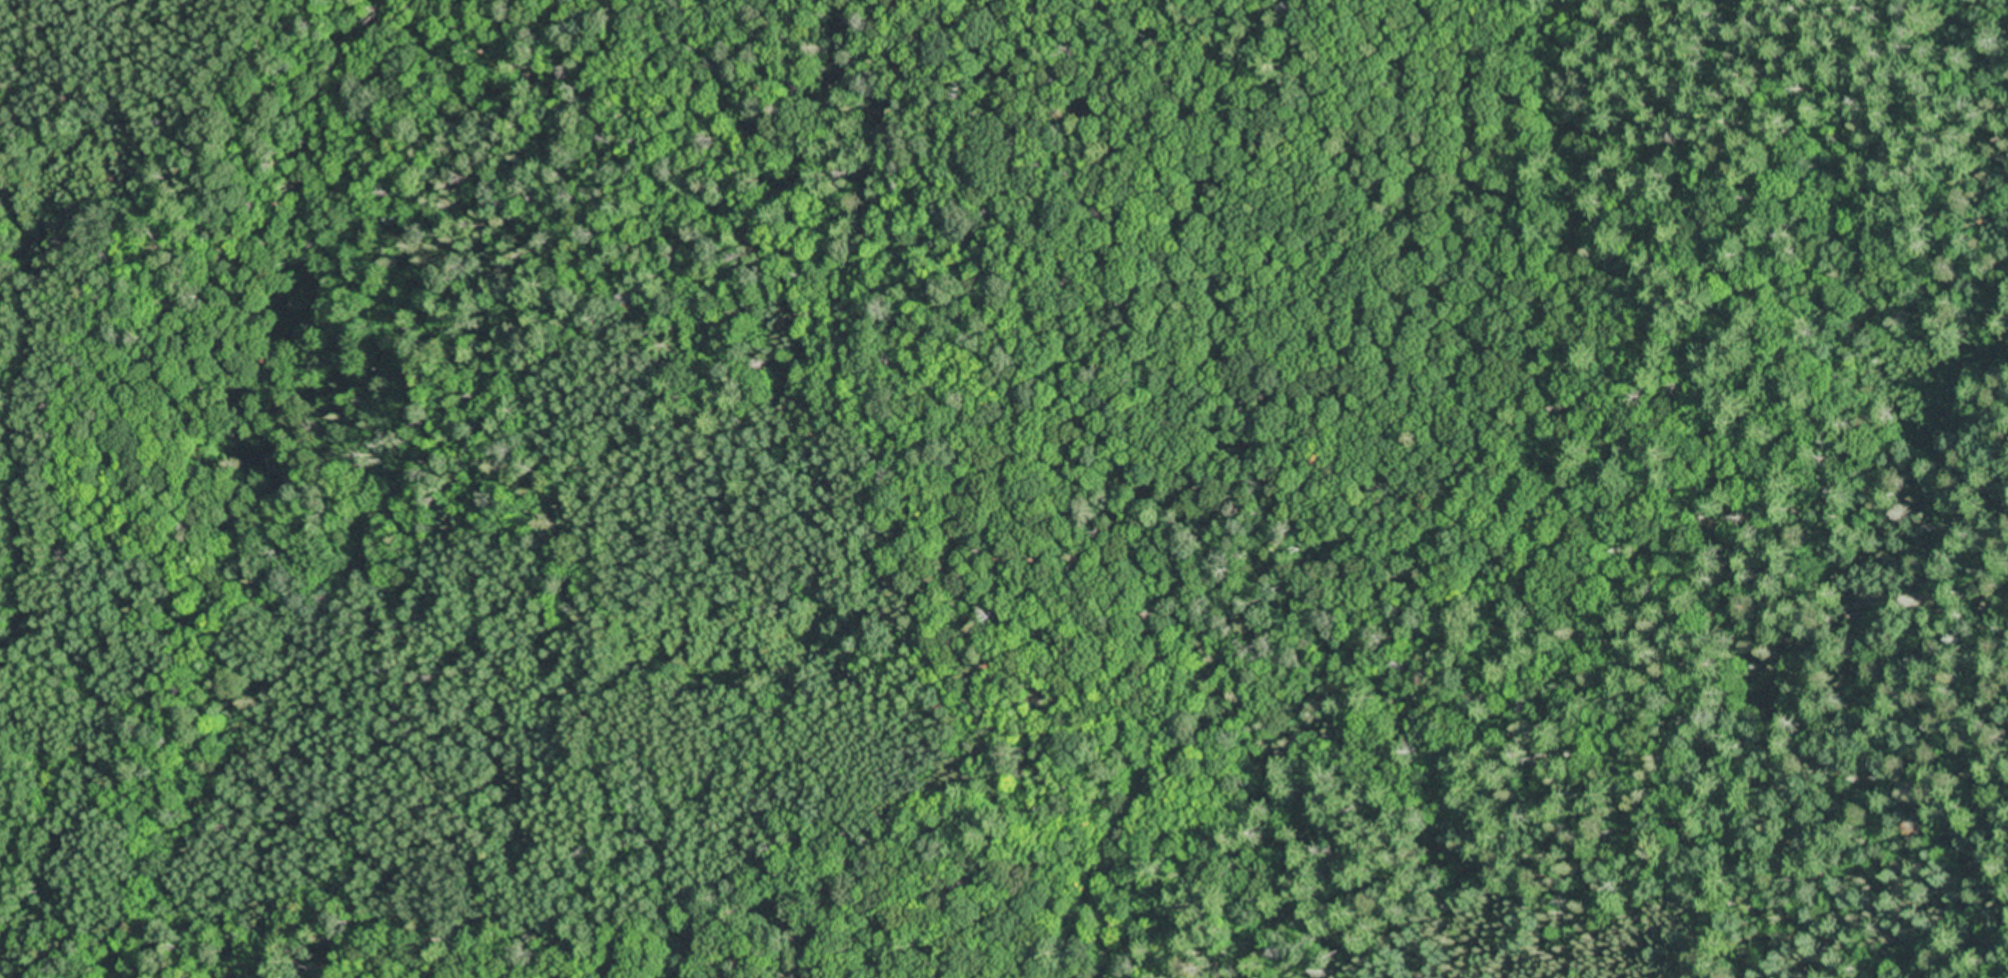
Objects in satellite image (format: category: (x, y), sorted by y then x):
road: (955, 403)
road: (26, 425)
road: (1512, 567)
road: (1634, 867)
road: (221, 868)

